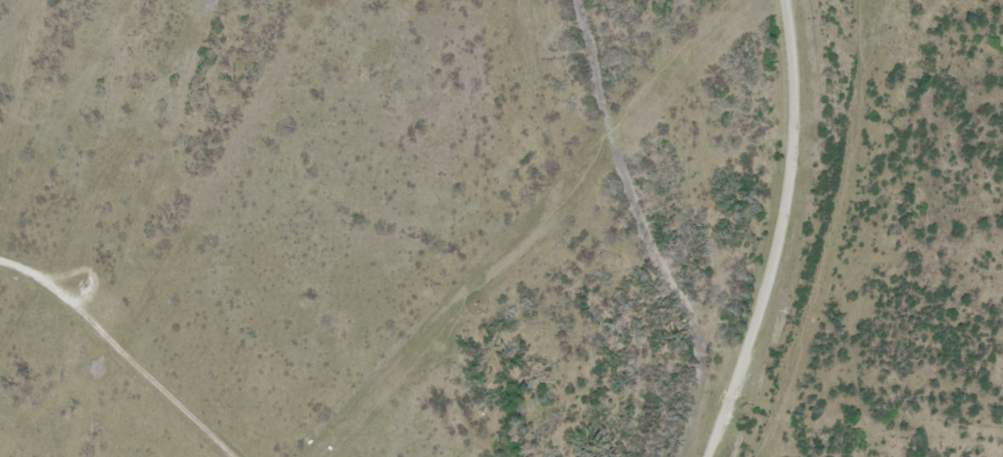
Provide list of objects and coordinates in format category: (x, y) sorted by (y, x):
road: (778, 232)
road: (116, 353)

